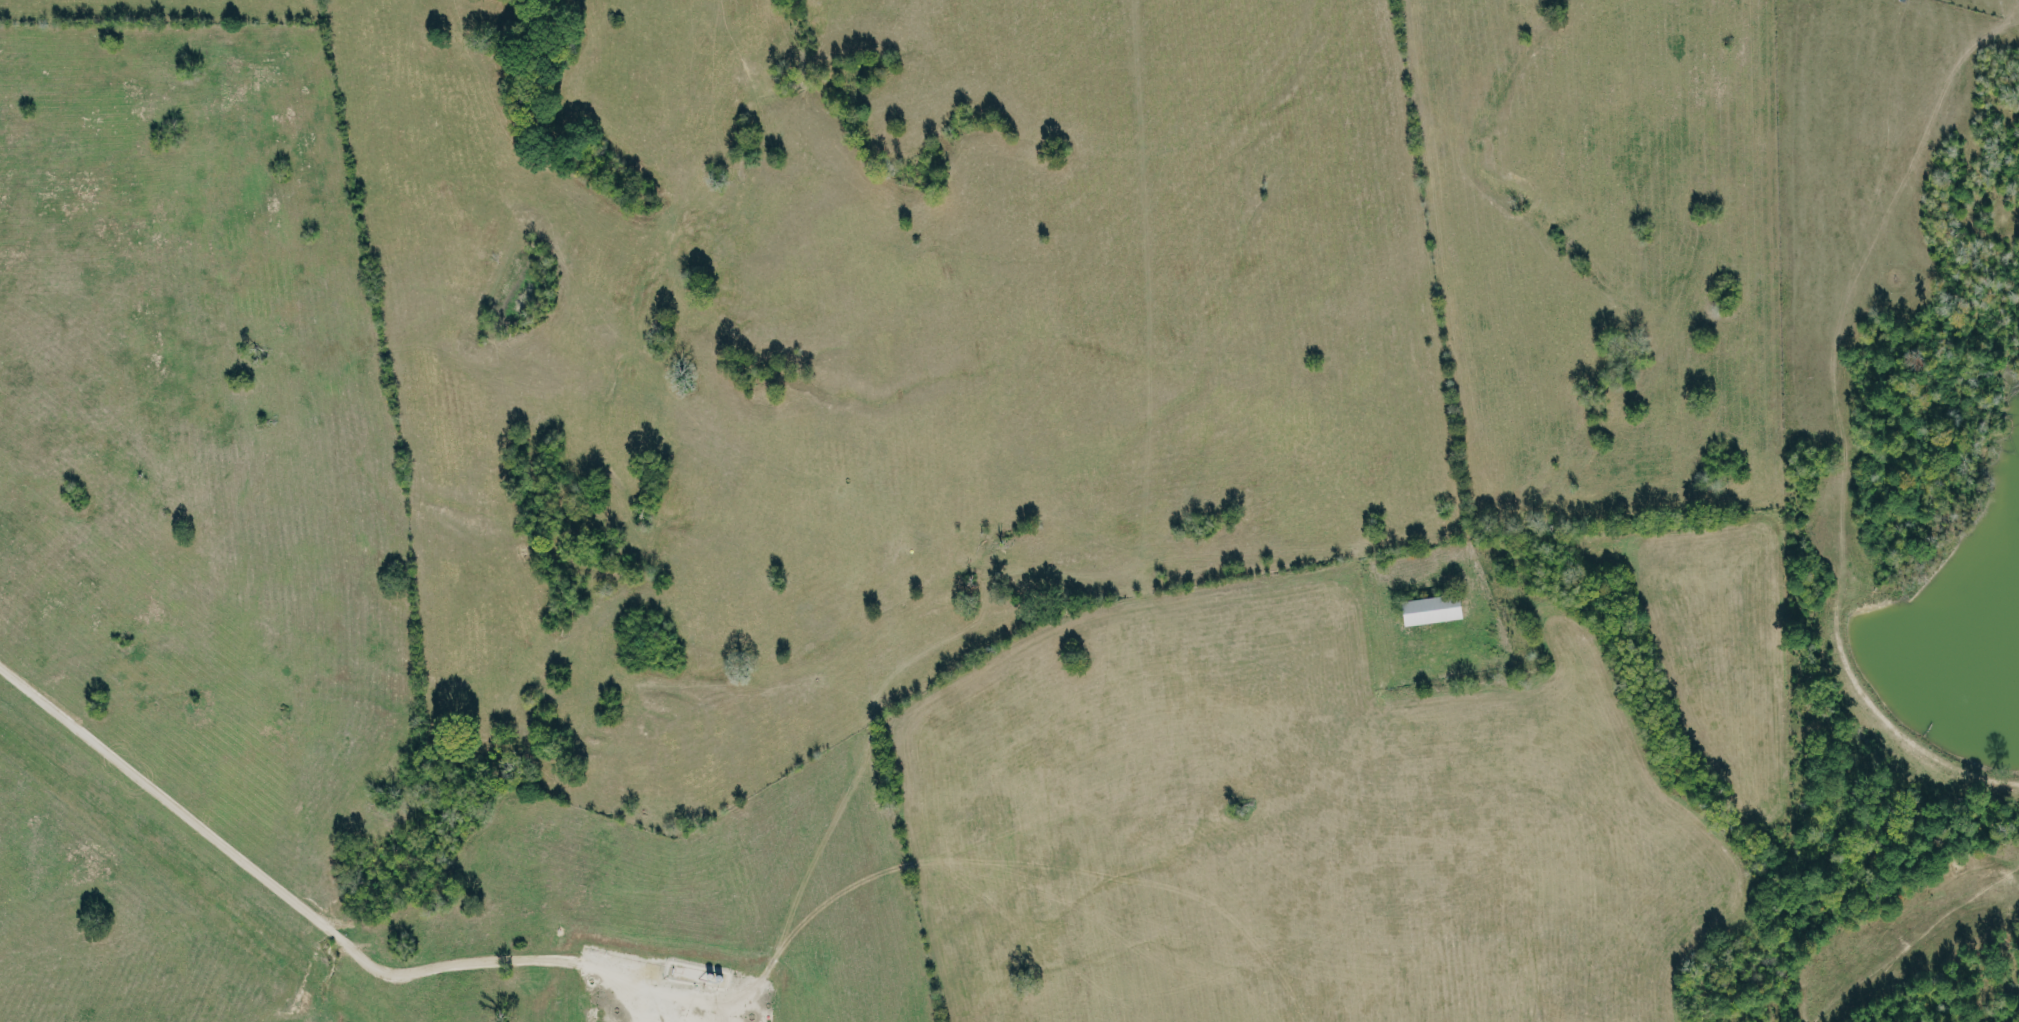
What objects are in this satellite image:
building: (1424, 610)

